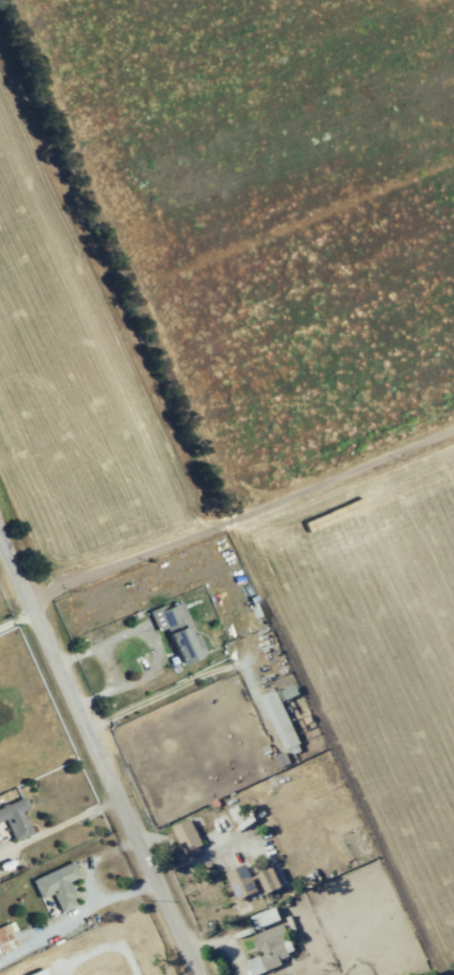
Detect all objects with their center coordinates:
crop: (266, 201)
crop: (75, 365)
road: (249, 533)
building: (177, 631)
crop: (376, 651)
building: (279, 719)
road: (98, 749)
building: (15, 819)
road: (60, 825)
building: (187, 835)
building: (251, 880)
building: (57, 885)
building: (265, 917)
building: (6, 936)
building: (270, 948)
building: (37, 972)

